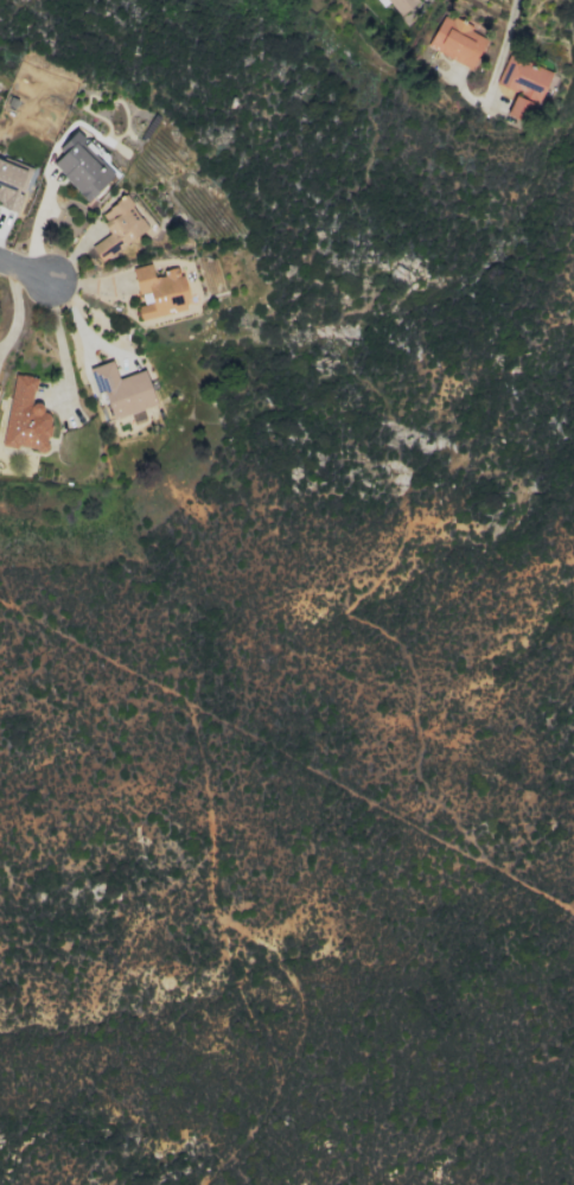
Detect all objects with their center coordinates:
building: (400, 5)
building: (453, 38)
road: (500, 50)
building: (514, 70)
building: (81, 167)
building: (12, 183)
road: (33, 228)
building: (117, 228)
road: (21, 286)
building: (159, 292)
road: (14, 314)
road: (59, 359)
building: (122, 391)
building: (25, 418)

